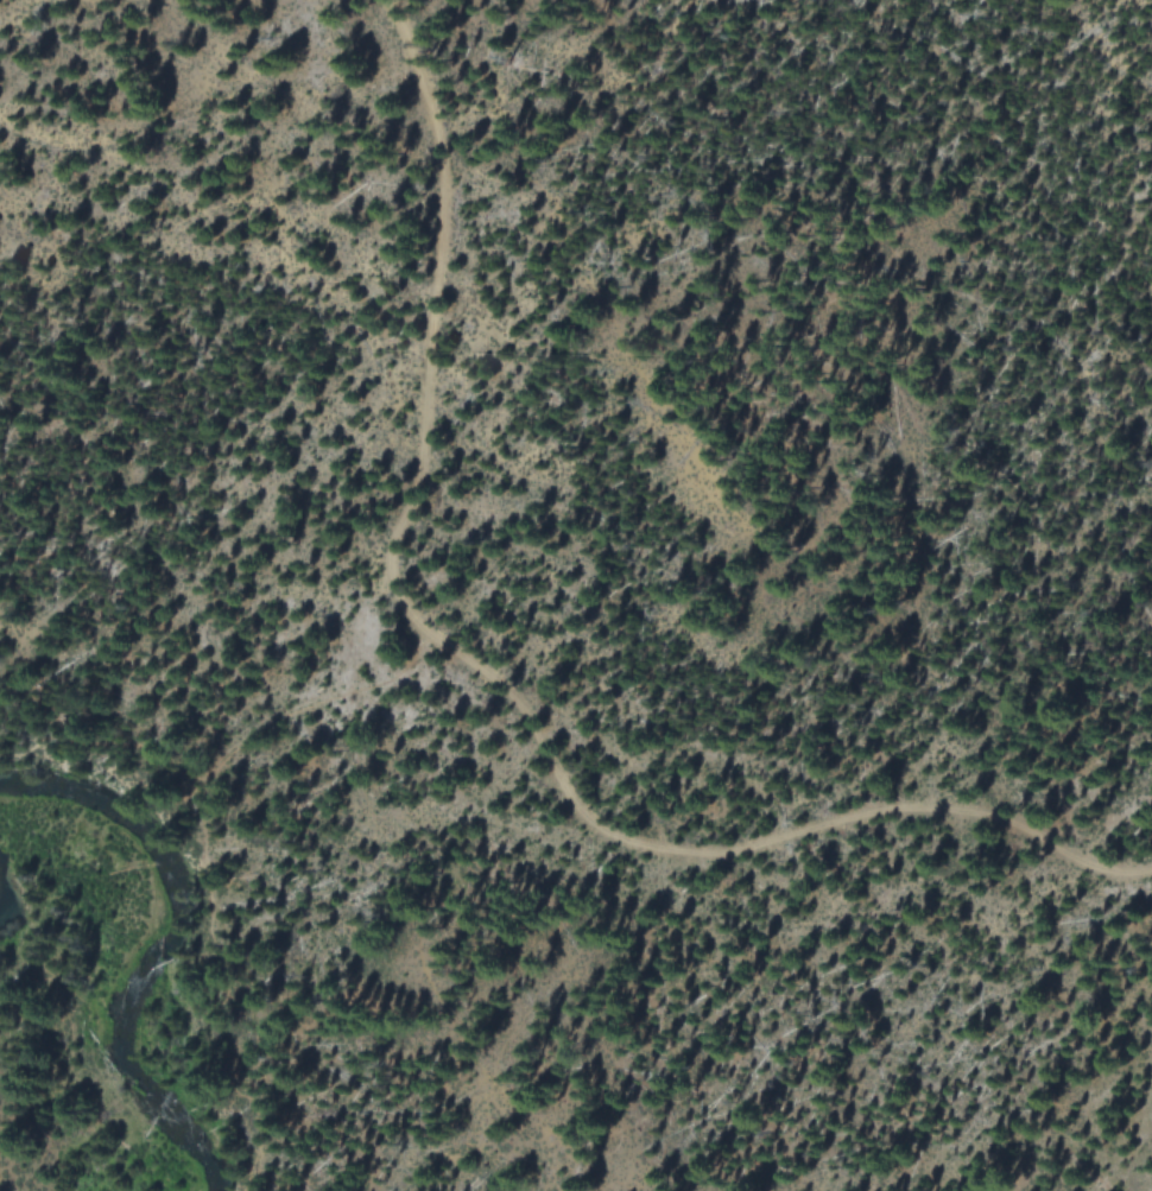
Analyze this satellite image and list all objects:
road: (498, 690)
river: (132, 956)
road: (44, 1083)

